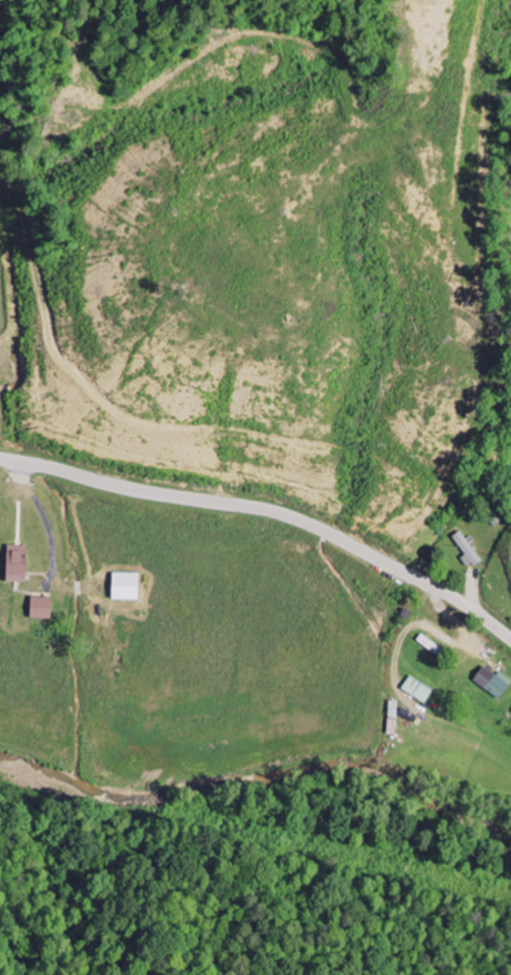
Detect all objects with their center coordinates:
road: (269, 510)
building: (21, 563)
building: (130, 585)
building: (46, 608)

